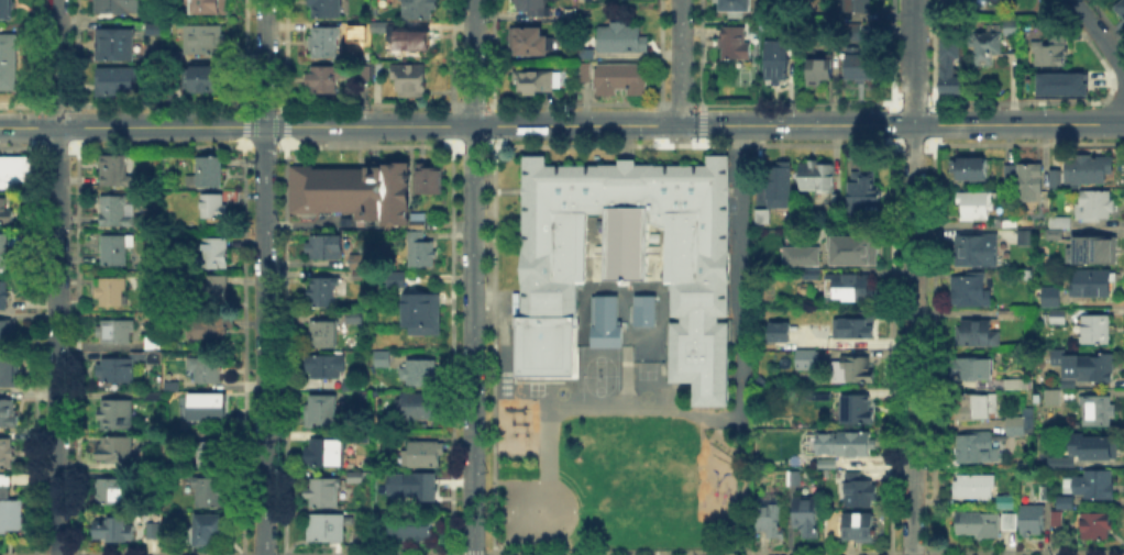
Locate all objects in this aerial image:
building: (169, 1)
building: (991, 1)
building: (996, 1)
building: (734, 3)
building: (858, 5)
building: (118, 7)
building: (533, 7)
building: (210, 8)
building: (1122, 8)
building: (326, 9)
building: (5, 10)
building: (418, 10)
building: (359, 26)
building: (379, 26)
building: (155, 29)
building: (1010, 29)
building: (856, 30)
road: (1101, 35)
building: (621, 40)
building: (203, 41)
building: (326, 42)
building: (831, 43)
building: (415, 44)
building: (535, 44)
building: (735, 44)
building: (115, 46)
building: (988, 47)
building: (585, 52)
building: (1051, 52)
building: (5, 63)
road: (264, 63)
road: (472, 63)
road: (681, 63)
building: (776, 65)
building: (860, 67)
building: (949, 67)
building: (585, 70)
building: (819, 74)
building: (324, 80)
building: (620, 81)
building: (205, 82)
building: (1060, 82)
building: (411, 84)
building: (532, 84)
building: (118, 86)
building: (174, 89)
road: (798, 124)
road: (367, 125)
traffic signals: (650, 125)
traffic signals: (714, 125)
road: (132, 126)
building: (971, 170)
building: (113, 171)
building: (209, 174)
building: (1086, 174)
building: (12, 175)
building: (426, 178)
building: (817, 178)
building: (1057, 178)
building: (1023, 185)
building: (779, 188)
building: (861, 189)
building: (351, 190)
building: (836, 200)
building: (974, 206)
building: (214, 207)
building: (1094, 207)
building: (117, 212)
building: (5, 214)
building: (762, 218)
building: (415, 219)
parking lot: (738, 232)
building: (1064, 234)
building: (1024, 237)
building: (326, 247)
building: (856, 249)
building: (1091, 249)
building: (4, 252)
building: (114, 252)
building: (977, 252)
building: (422, 253)
building: (797, 253)
building: (217, 254)
building: (359, 259)
building: (624, 259)
building: (360, 275)
building: (813, 275)
road: (737, 276)
road: (55, 277)
road: (912, 277)
building: (393, 278)
building: (1093, 285)
building: (848, 287)
building: (213, 291)
building: (968, 291)
building: (111, 292)
building: (324, 296)
building: (1051, 296)
building: (4, 297)
building: (641, 309)
building: (1007, 313)
building: (422, 314)
building: (355, 315)
building: (1058, 317)
building: (603, 320)
building: (850, 326)
building: (775, 331)
building: (1097, 331)
building: (7, 333)
building: (117, 333)
building: (205, 333)
building: (977, 334)
building: (318, 335)
road: (472, 340)
road: (264, 341)
building: (153, 347)
building: (382, 358)
building: (147, 360)
building: (807, 360)
building: (324, 368)
building: (1095, 368)
building: (205, 369)
building: (969, 370)
building: (8, 371)
building: (117, 371)
building: (852, 371)
building: (420, 375)
building: (352, 390)
building: (823, 393)
building: (1053, 396)
building: (345, 406)
building: (419, 407)
building: (207, 408)
building: (976, 408)
building: (321, 412)
building: (858, 412)
building: (1099, 412)
building: (8, 414)
building: (118, 415)
building: (1015, 426)
building: (852, 445)
building: (976, 448)
building: (1100, 448)
building: (117, 452)
building: (327, 454)
building: (7, 455)
building: (422, 456)
building: (209, 457)
building: (1057, 460)
building: (827, 463)
building: (796, 476)
building: (356, 480)
building: (1095, 485)
building: (973, 486)
building: (426, 489)
building: (861, 491)
building: (111, 493)
building: (209, 495)
building: (323, 495)
building: (1006, 500)
building: (1066, 501)
building: (11, 512)
building: (807, 518)
building: (1057, 518)
building: (1005, 519)
building: (772, 522)
building: (974, 522)
building: (1032, 522)
building: (1099, 528)
building: (859, 529)
building: (208, 530)
building: (328, 530)
building: (411, 530)
building: (112, 532)
building: (154, 533)

